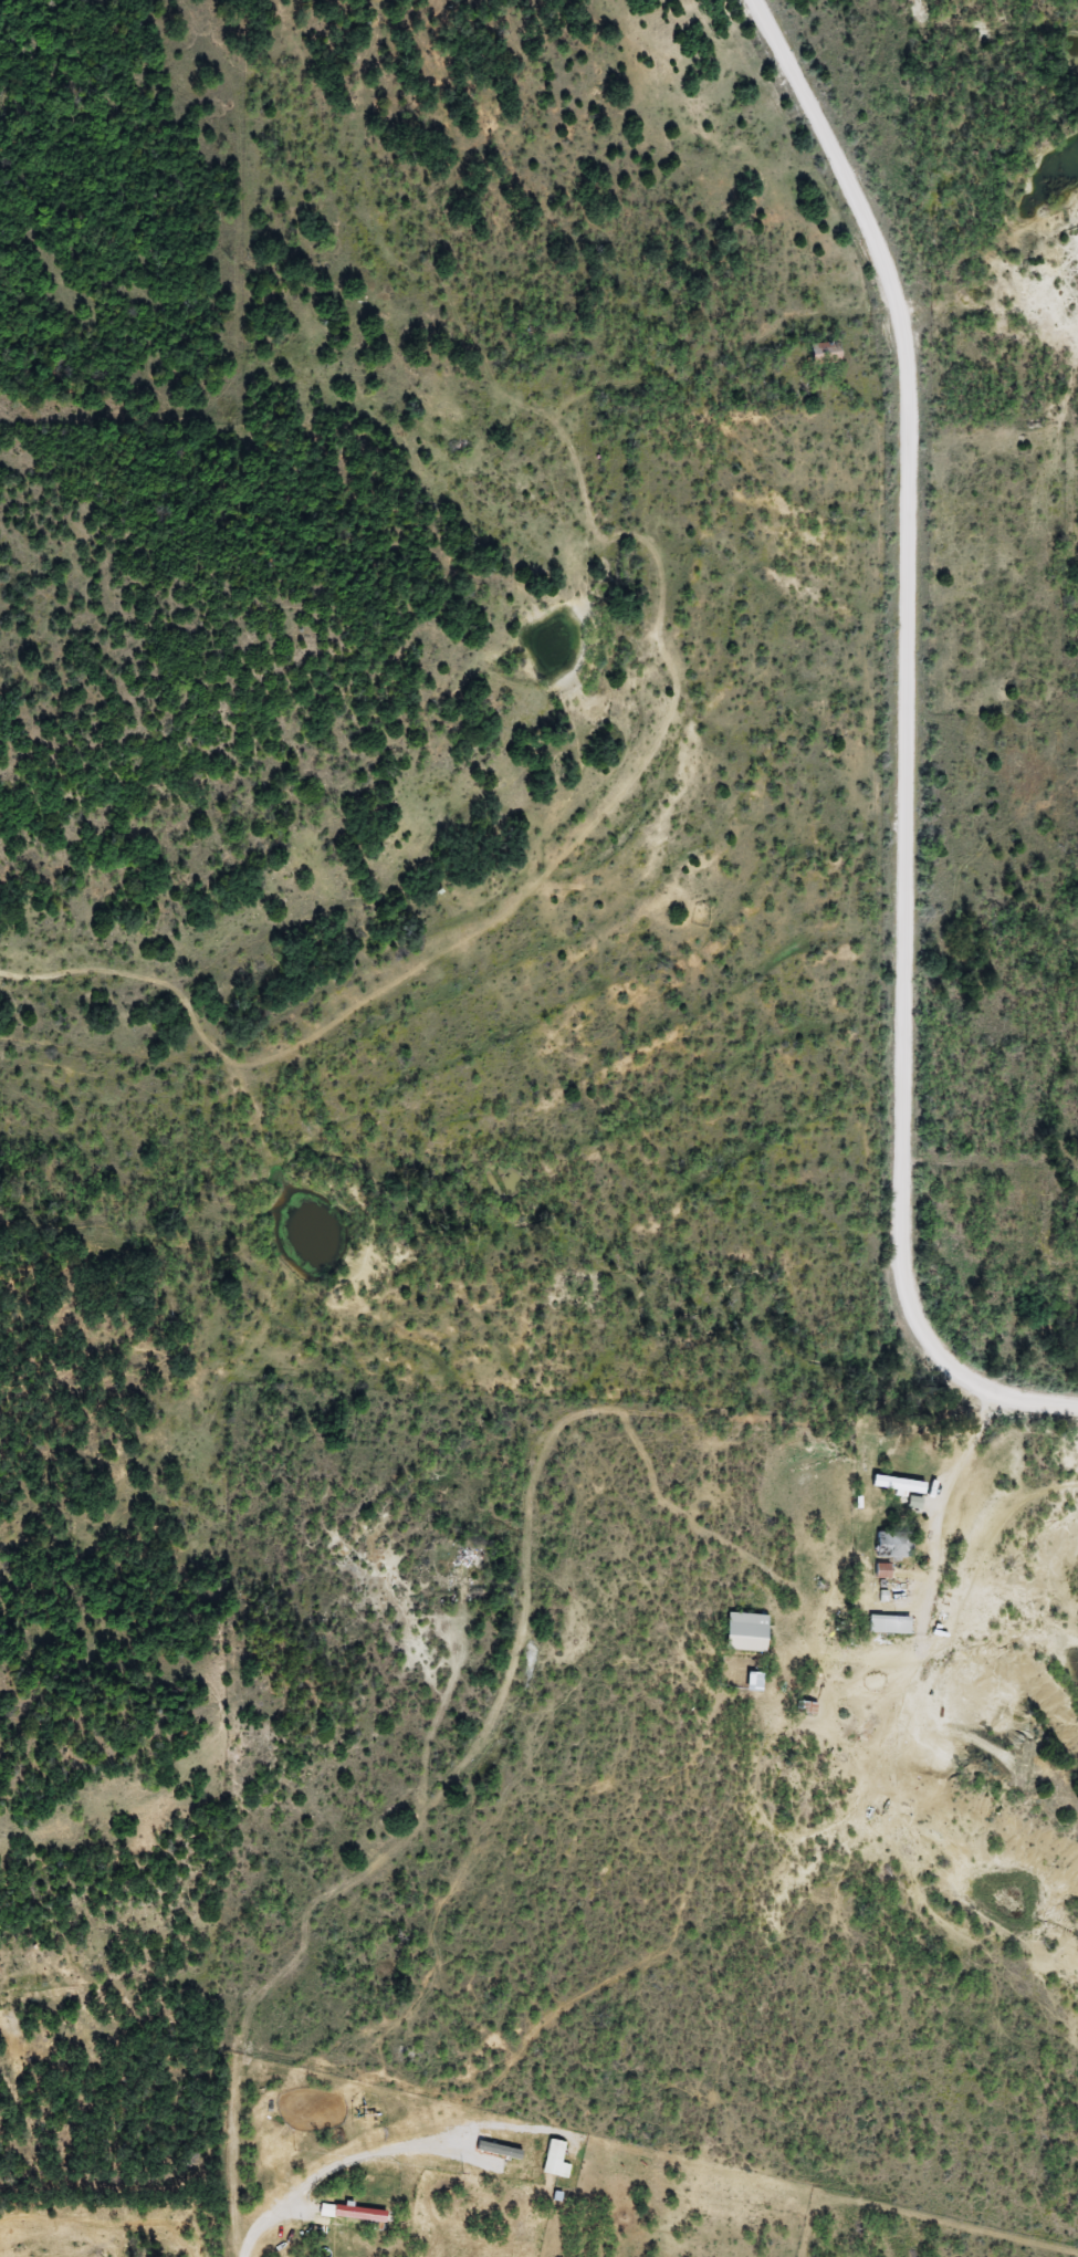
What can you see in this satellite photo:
building: (824, 354)
building: (1022, 1203)
building: (1014, 1250)
road: (1017, 1399)
building: (894, 1545)
building: (889, 1624)
building: (746, 1632)
building: (754, 1682)

